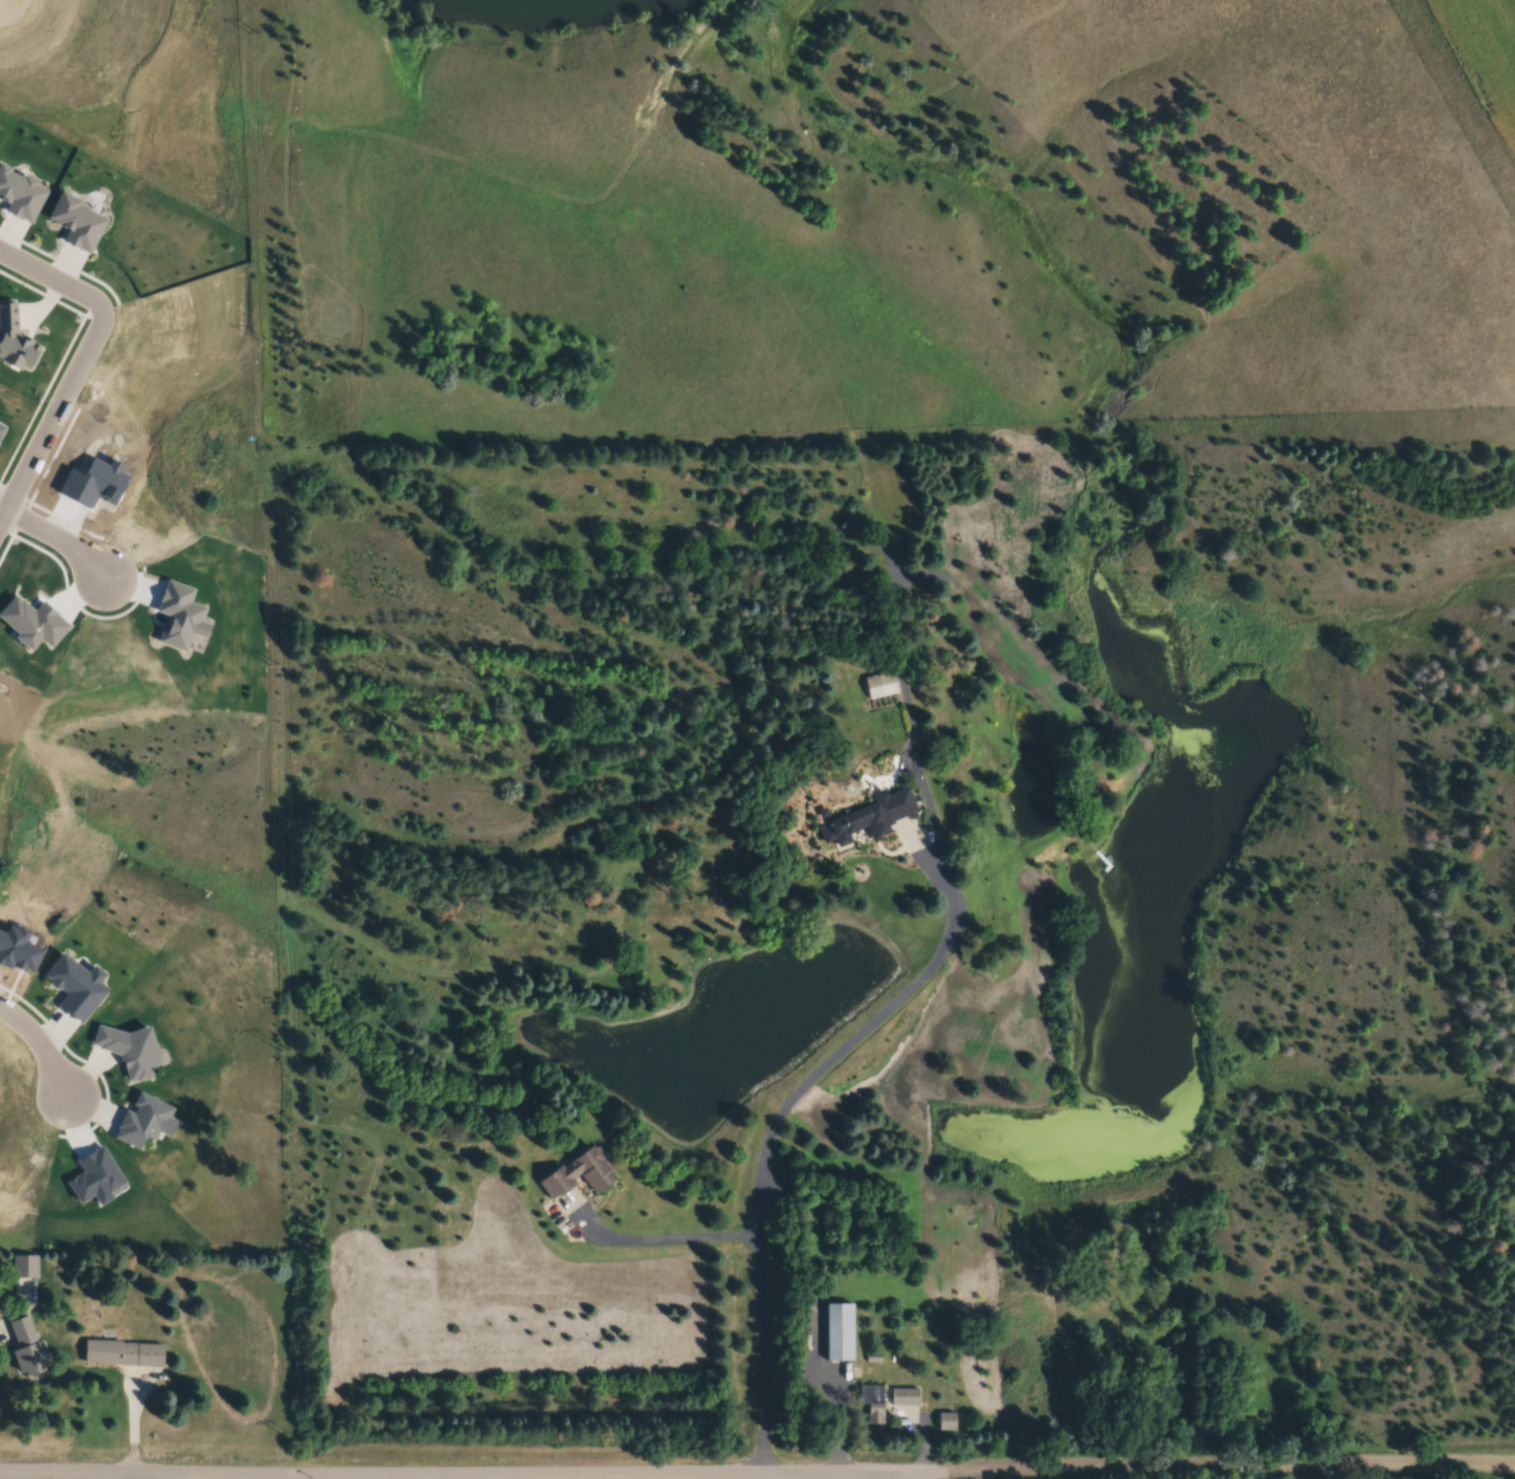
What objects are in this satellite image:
power tower: (254, 35)
crop: (1482, 60)
building: (20, 194)
building: (76, 221)
road: (52, 292)
building: (15, 338)
power tower: (264, 342)
road: (47, 421)
building: (1, 428)
building: (93, 484)
road: (0, 510)
road: (0, 511)
road: (56, 539)
building: (180, 619)
building: (33, 623)
power tower: (274, 666)
building: (18, 945)
building: (76, 987)
building: (129, 1049)
road: (37, 1051)
power tower: (286, 1053)
building: (144, 1120)
road: (764, 1150)
building: (95, 1174)
building: (571, 1181)
road: (660, 1241)
building: (24, 1266)
building: (834, 1338)
building: (24, 1351)
building: (117, 1354)
building: (863, 1402)
building: (897, 1402)
power tower: (298, 1442)
road: (1237, 1471)
road: (151, 1477)
road: (479, 1477)
road: (902, 1477)

